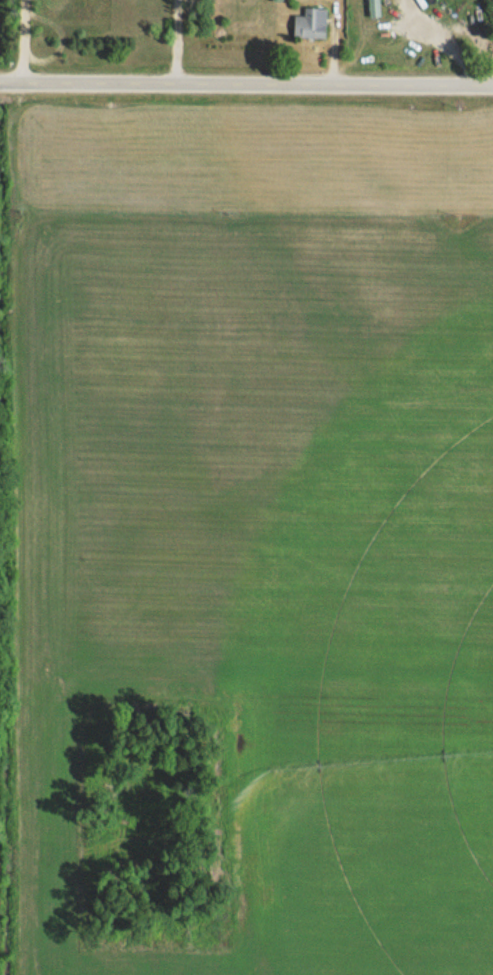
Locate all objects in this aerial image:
building: (311, 23)
road: (25, 40)
road: (246, 81)

